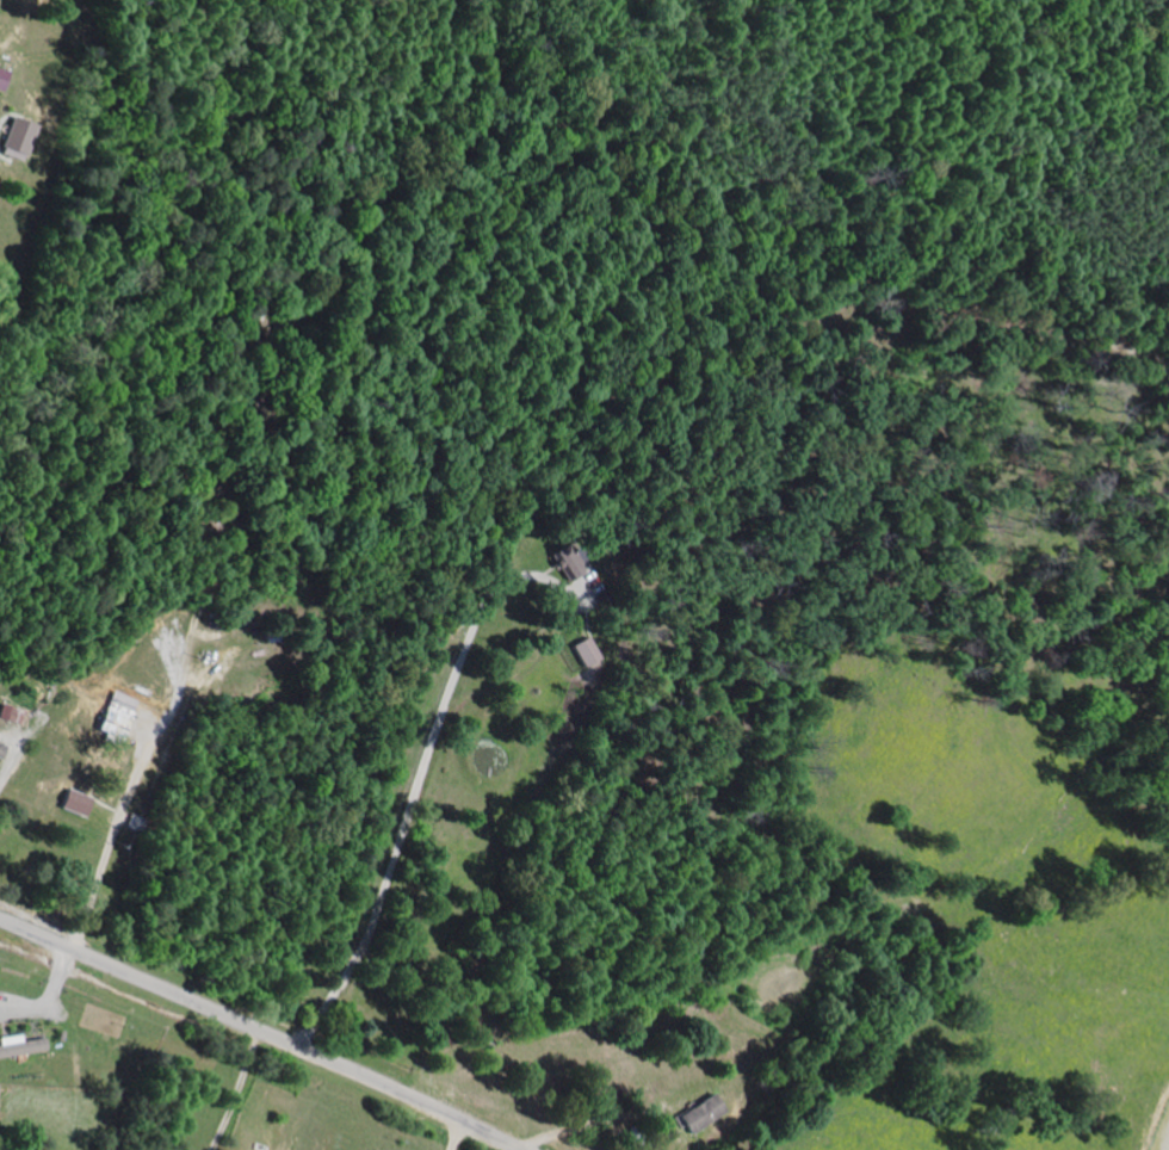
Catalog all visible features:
building: (1, 78)
building: (14, 138)
building: (562, 555)
building: (582, 651)
building: (10, 715)
building: (115, 716)
building: (1, 749)
road: (5, 767)
road: (415, 793)
building: (73, 803)
road: (111, 839)
road: (258, 1032)
building: (18, 1046)
road: (231, 1090)
building: (699, 1113)
road: (589, 1129)
road: (453, 1136)

